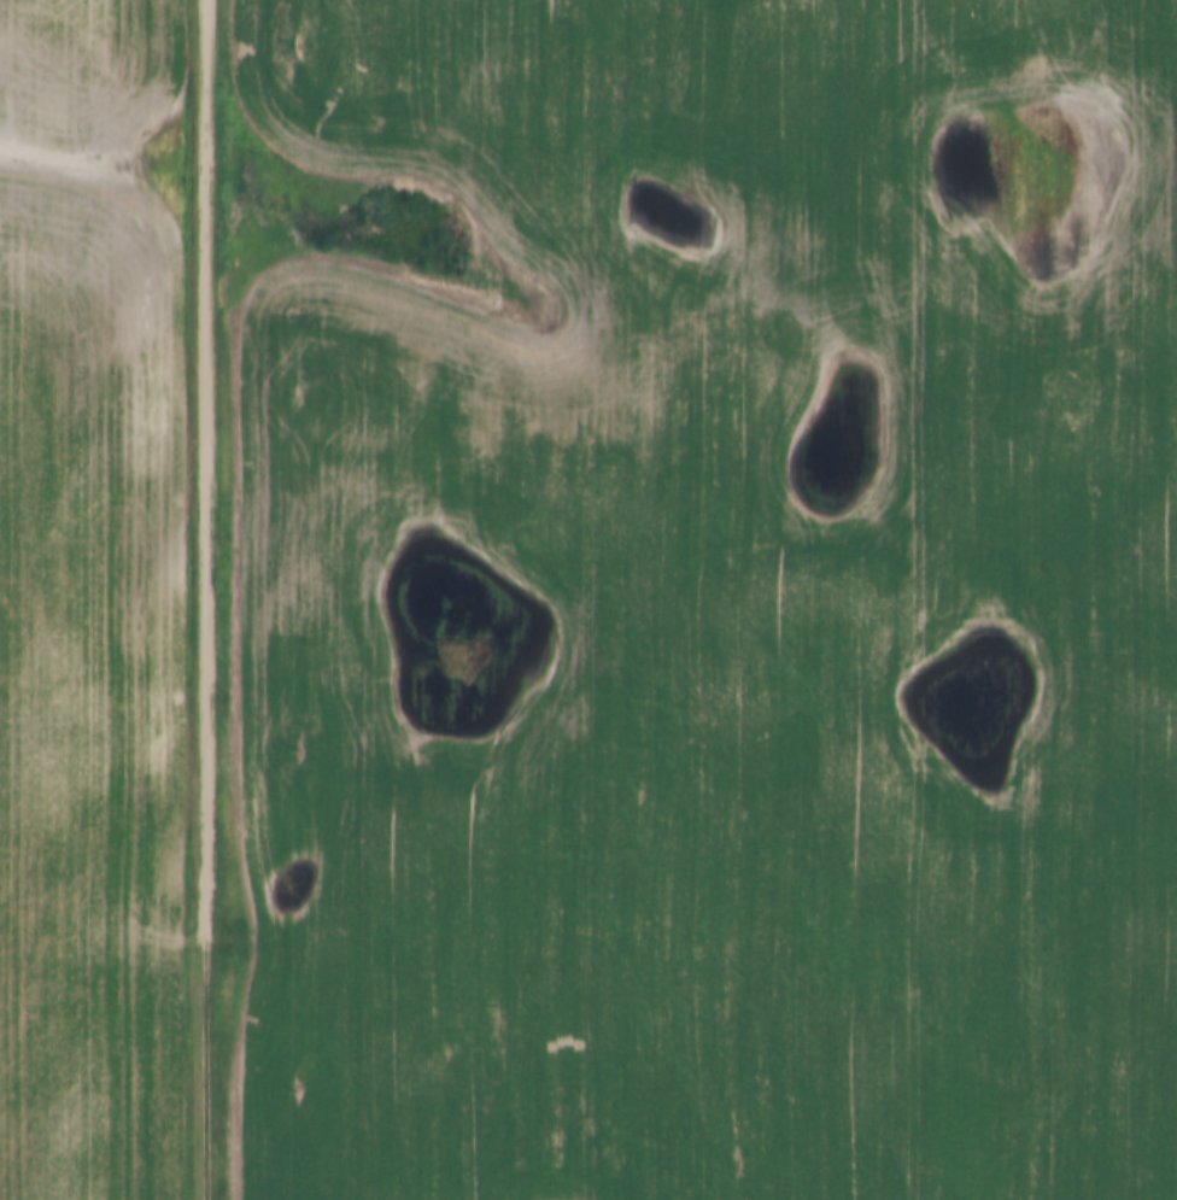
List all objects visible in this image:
road: (206, 476)
road: (204, 1076)

